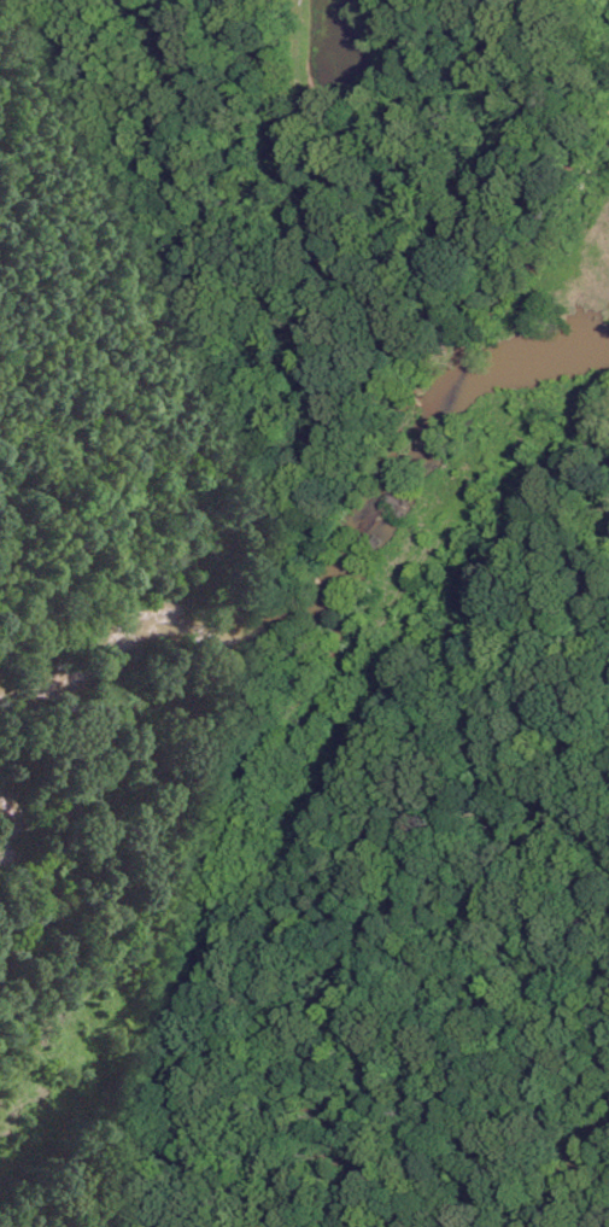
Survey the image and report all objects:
river: (339, 575)
river: (11, 822)

